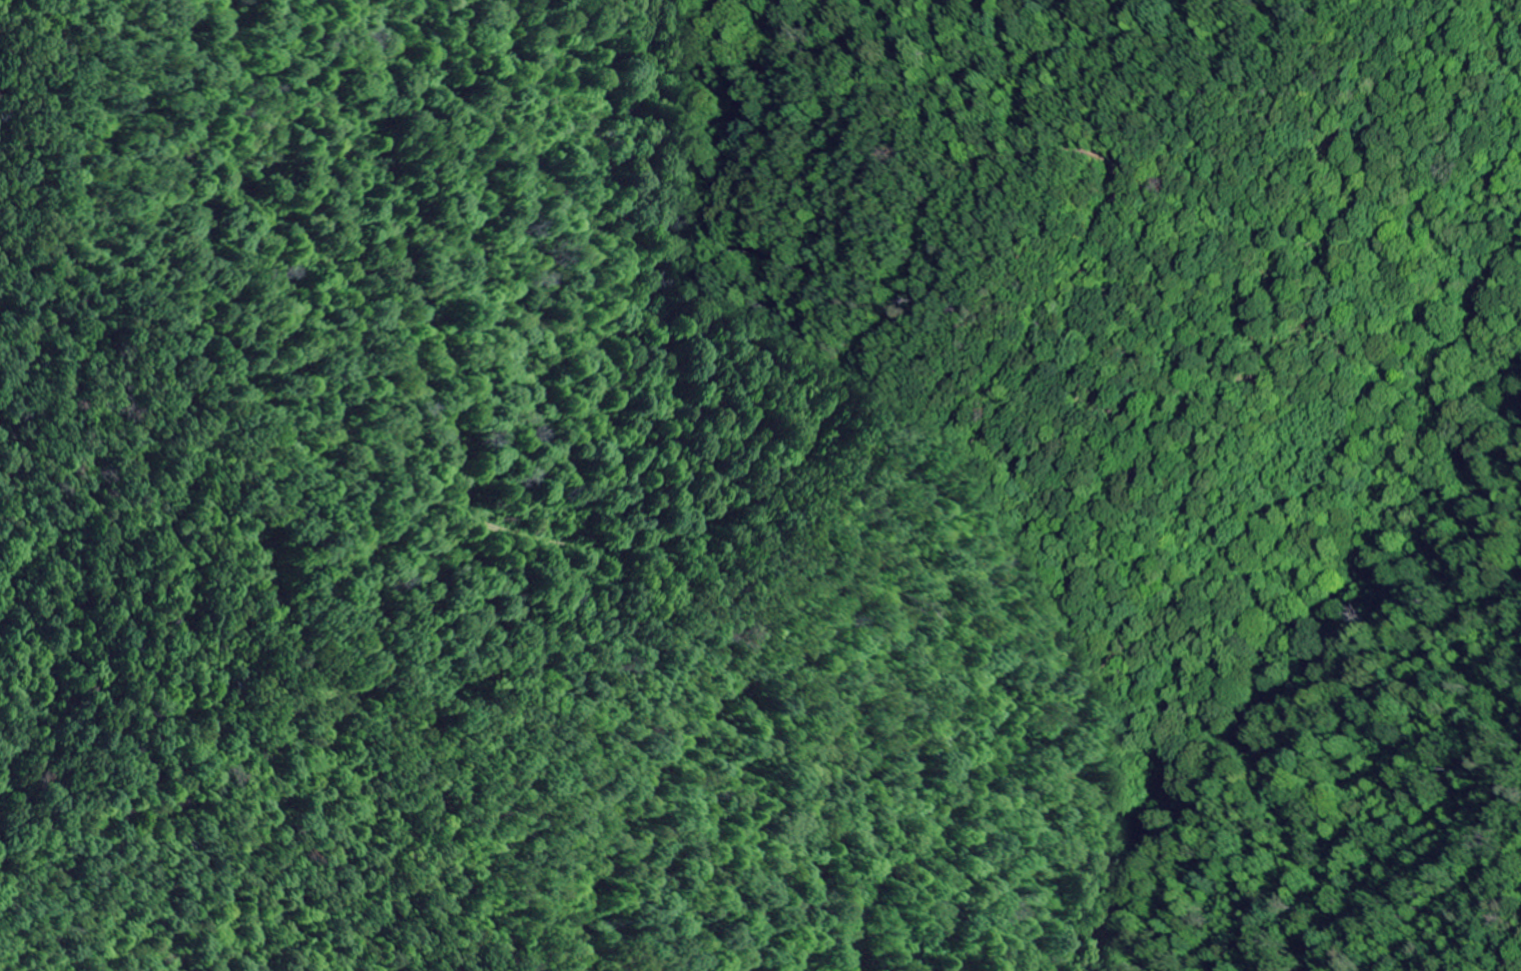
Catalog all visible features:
road: (1445, 903)

